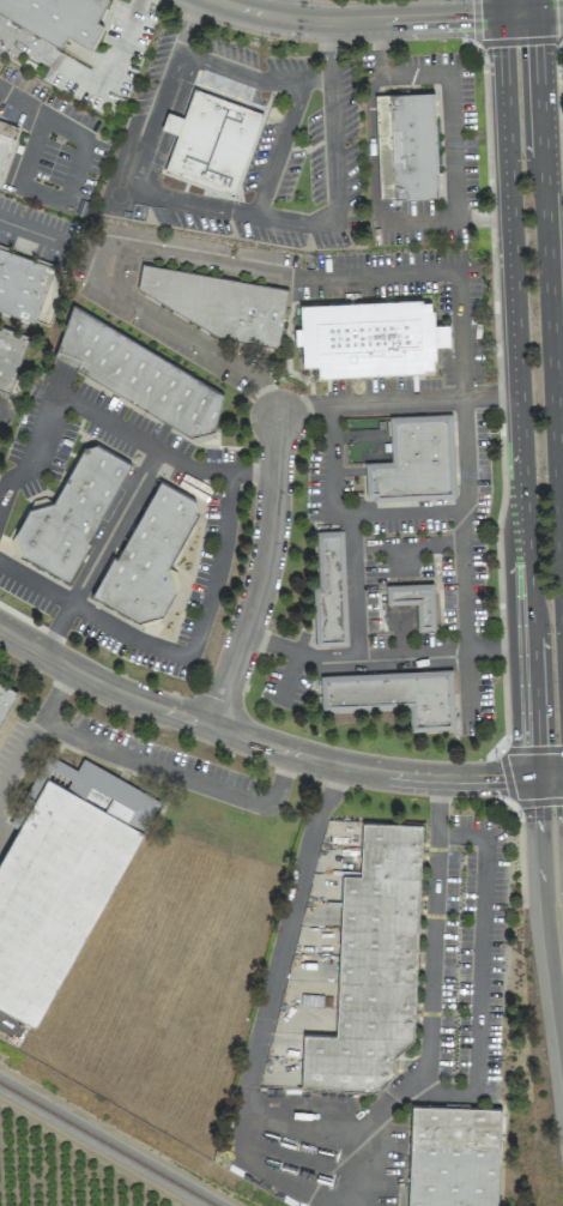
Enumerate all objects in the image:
road: (535, 6)
road: (498, 7)
road: (292, 8)
road: (549, 11)
road: (517, 13)
traffic signals: (470, 17)
building: (56, 18)
road: (356, 22)
road: (189, 38)
road: (517, 42)
traffic signals: (538, 48)
road: (383, 49)
road: (256, 77)
road: (86, 79)
road: (24, 105)
road: (454, 113)
building: (5, 141)
building: (210, 141)
building: (406, 145)
road: (374, 147)
road: (281, 150)
road: (337, 158)
road: (145, 191)
road: (62, 199)
road: (443, 218)
road: (30, 230)
road: (213, 261)
building: (23, 282)
building: (219, 303)
road: (550, 307)
building: (369, 337)
building: (10, 355)
road: (557, 356)
building: (138, 375)
road: (519, 394)
road: (369, 398)
road: (109, 421)
building: (414, 460)
road: (464, 493)
building: (71, 513)
road: (341, 513)
road: (114, 524)
road: (410, 545)
building: (149, 554)
road: (266, 577)
road: (35, 580)
road: (356, 585)
building: (329, 590)
building: (413, 601)
road: (501, 650)
road: (182, 653)
road: (356, 657)
building: (393, 695)
building: (5, 698)
road: (32, 725)
road: (259, 741)
traffic signals: (538, 743)
road: (175, 773)
road: (551, 776)
traffic signals: (500, 778)
road: (543, 834)
building: (59, 875)
road: (551, 919)
road: (562, 943)
road: (562, 952)
building: (373, 965)
road: (484, 966)
road: (316, 1128)
railway: (108, 1144)
building: (453, 1156)
crop: (60, 1172)

